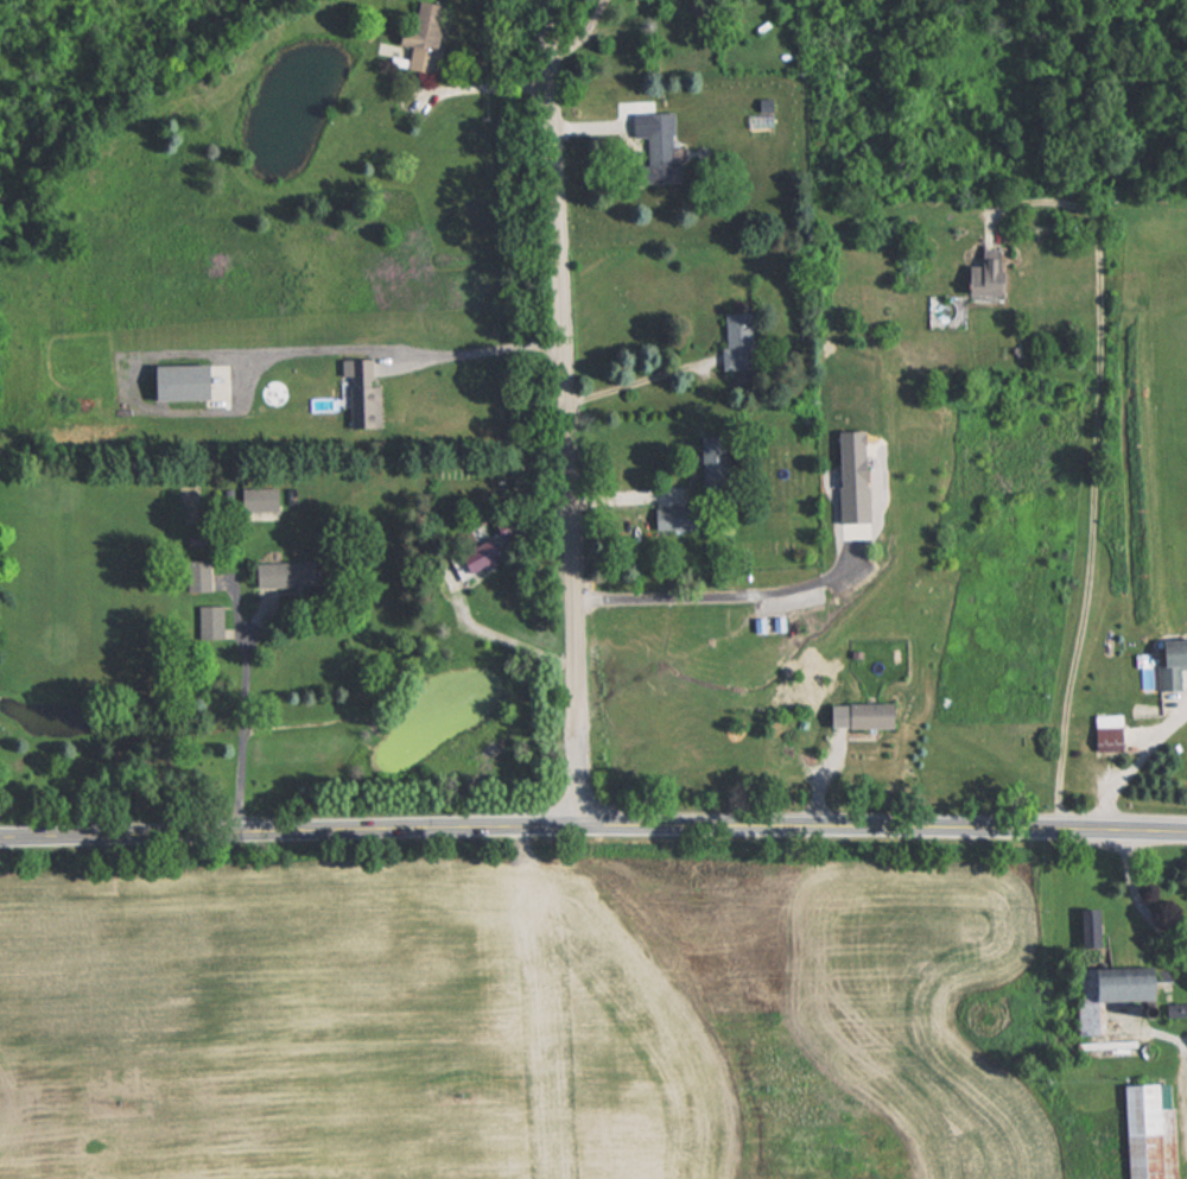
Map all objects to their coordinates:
building: (430, 36)
road: (482, 87)
building: (983, 274)
building: (731, 347)
road: (478, 353)
road: (640, 379)
building: (191, 382)
building: (367, 397)
road: (563, 411)
road: (1097, 464)
road: (633, 495)
building: (471, 560)
building: (291, 575)
road: (719, 613)
building: (214, 622)
building: (1168, 663)
building: (864, 715)
road: (242, 729)
building: (1104, 731)
road: (1135, 762)
road: (592, 824)
road: (1138, 905)
building: (1109, 984)
building: (1144, 1134)

